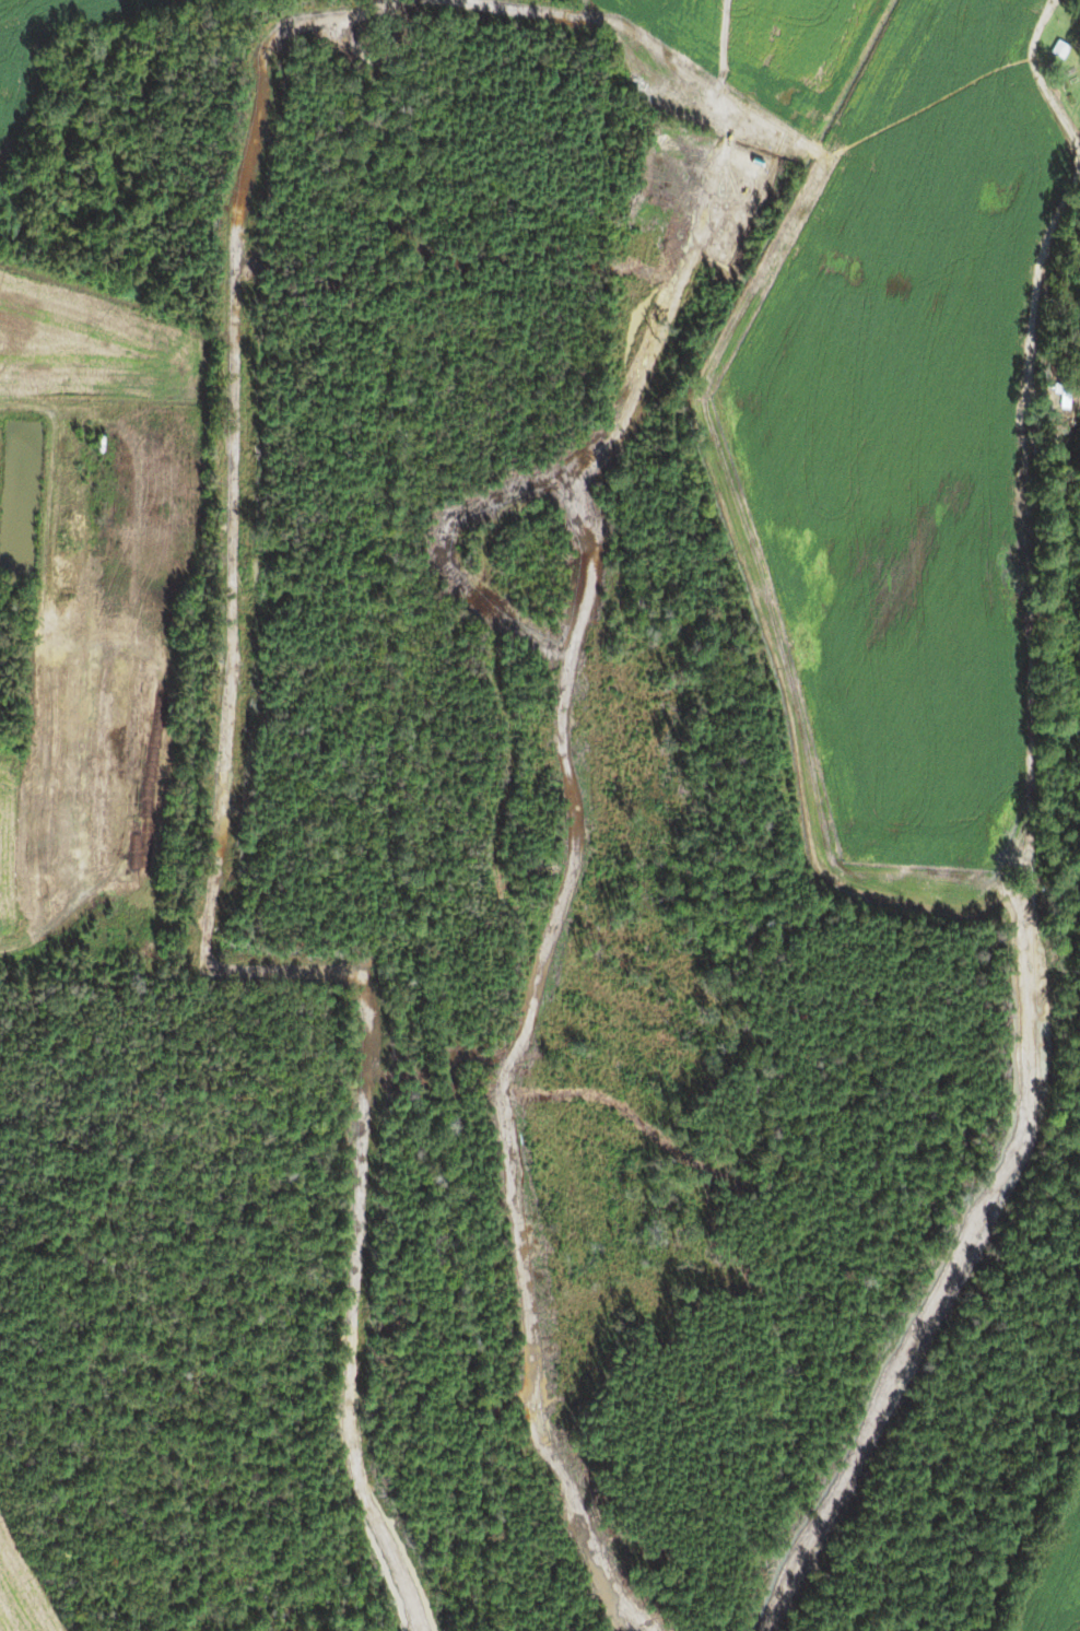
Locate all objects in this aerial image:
building: (59, 532)
building: (47, 719)
building: (90, 770)
building: (133, 772)
building: (39, 830)

